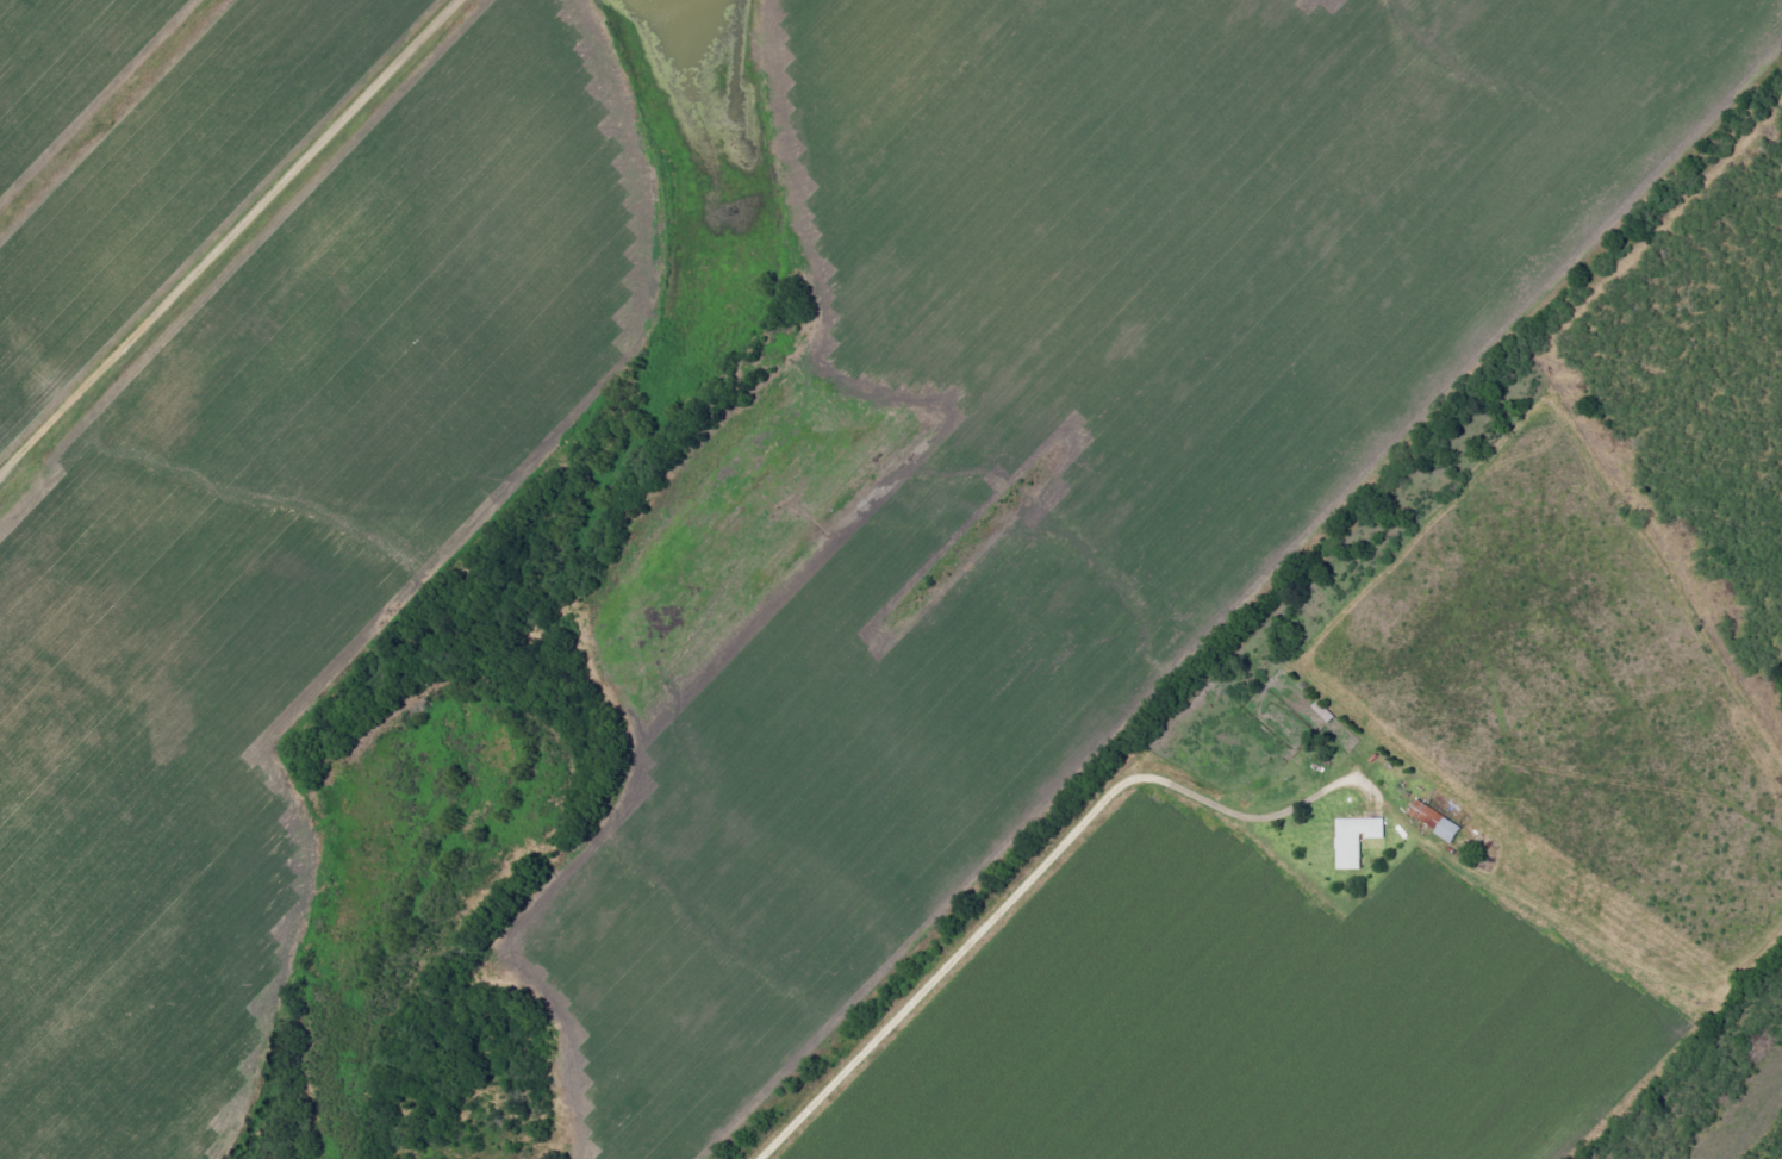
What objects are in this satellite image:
road: (237, 245)
building: (1358, 840)
road: (1039, 870)

